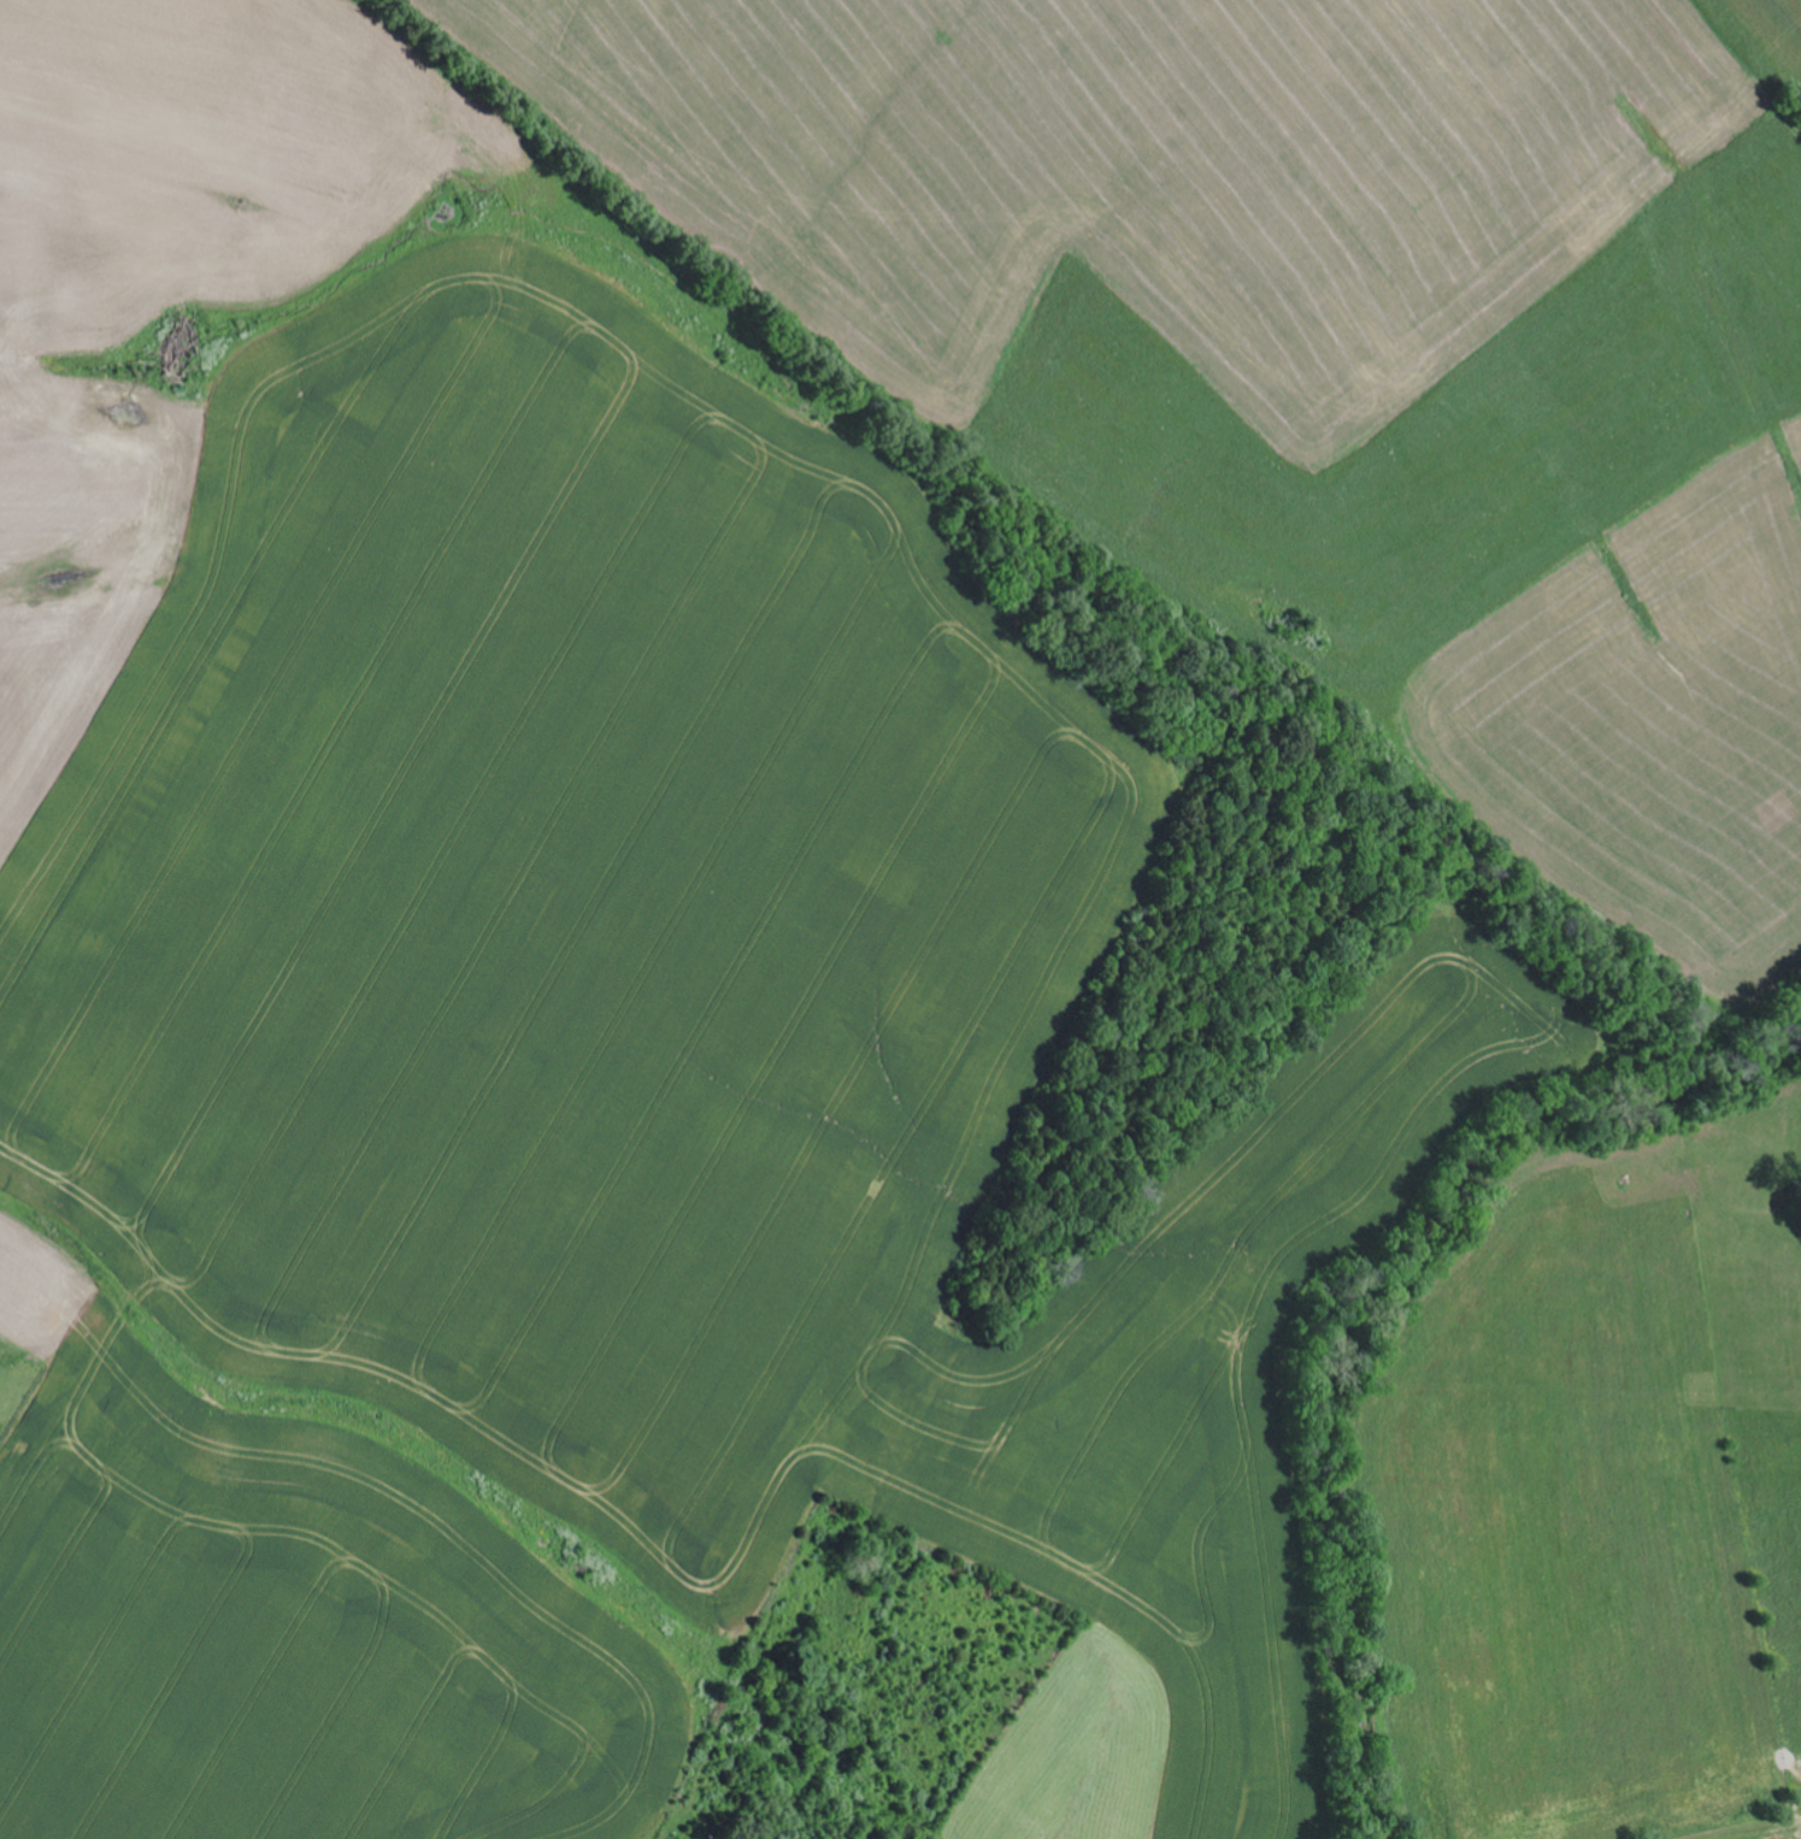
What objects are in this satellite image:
road: (928, 1817)

